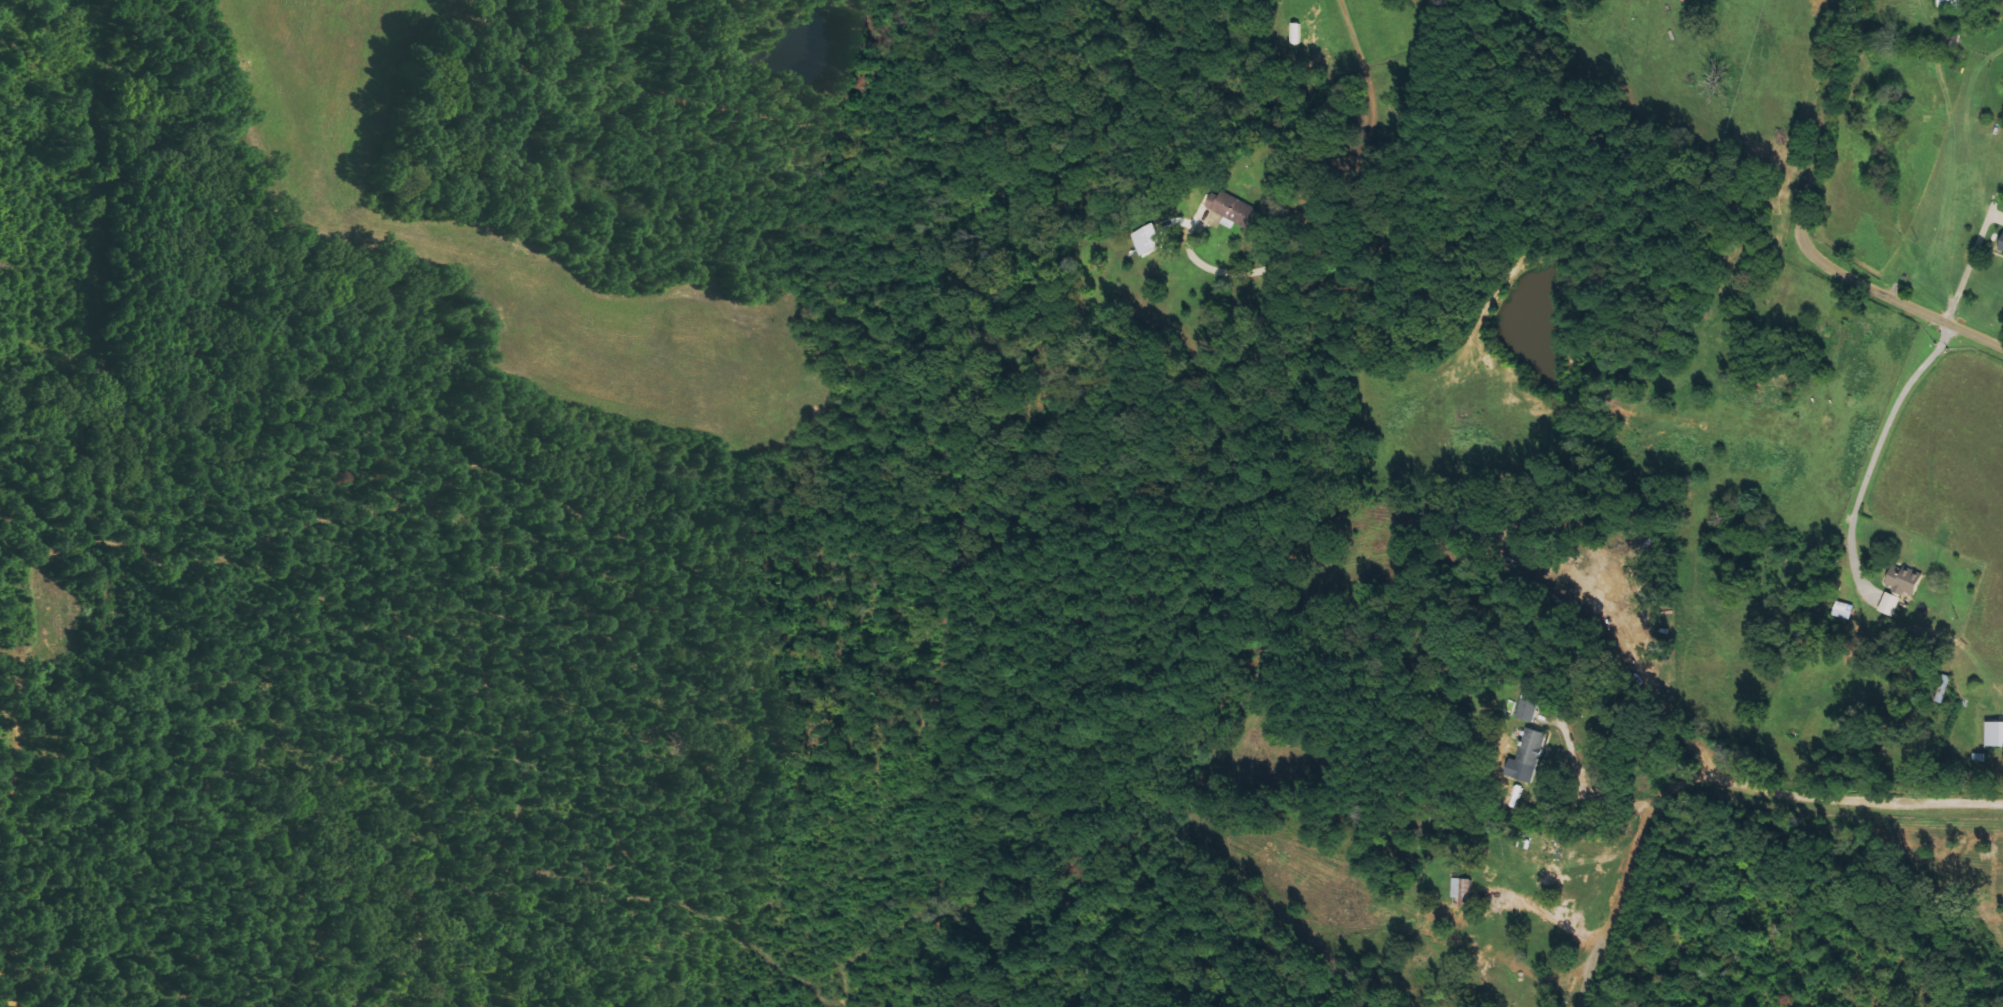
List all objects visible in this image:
building: (2000, 1)
road: (1363, 97)
building: (1228, 208)
road: (1799, 233)
building: (1143, 240)
building: (2000, 245)
building: (1901, 582)
building: (1887, 604)
building: (1841, 610)
building: (1940, 688)
building: (1526, 710)
building: (1993, 733)
building: (1525, 757)
road: (1720, 793)
building: (1460, 891)

